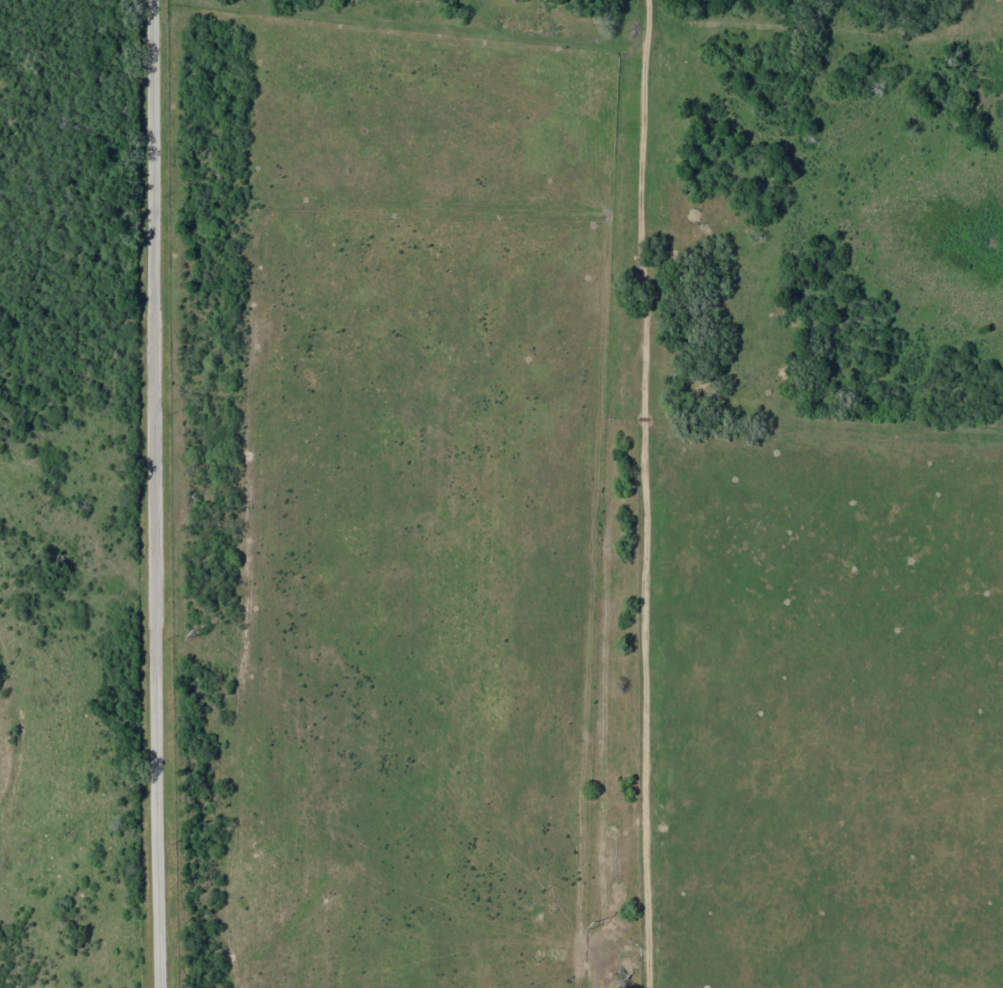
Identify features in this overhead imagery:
road: (160, 494)
power tower: (209, 636)
power tower: (608, 928)

